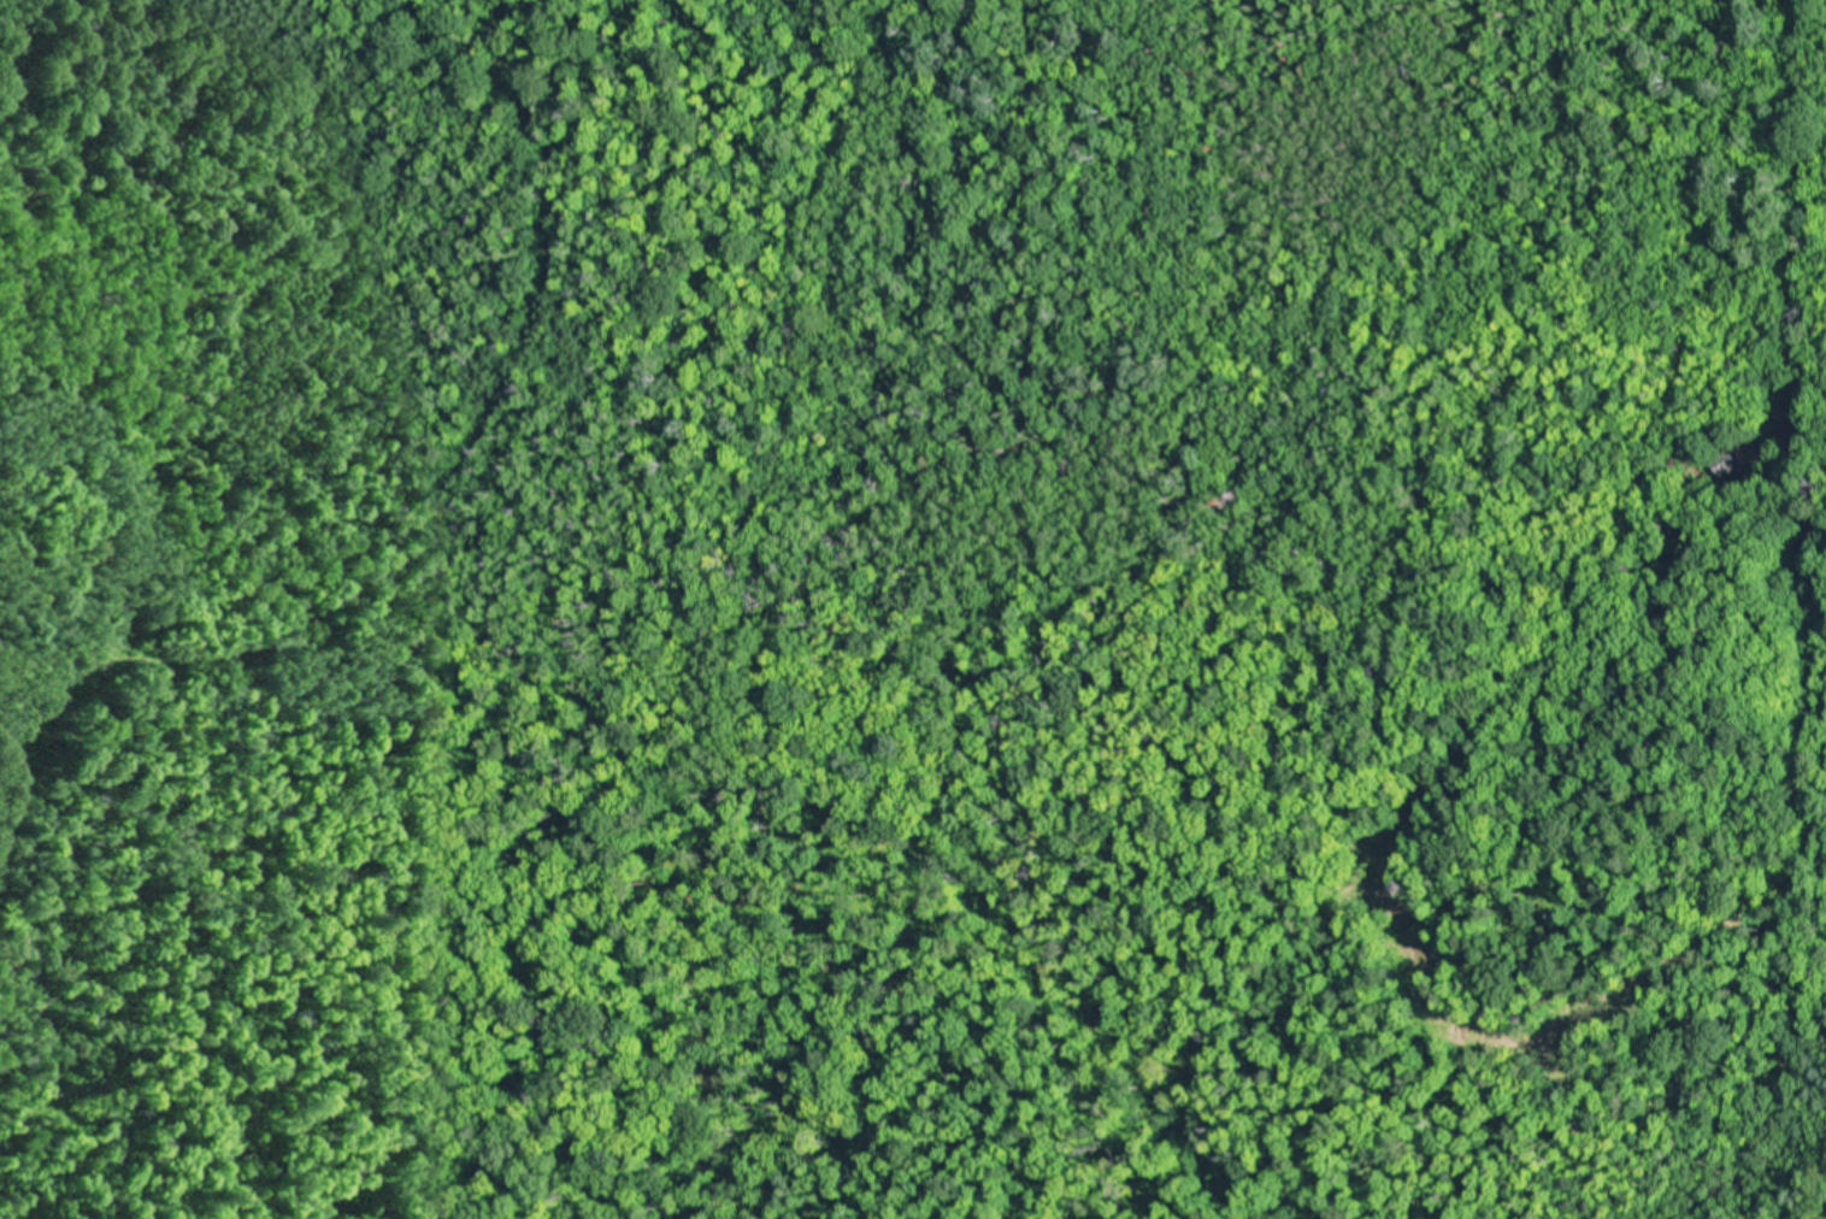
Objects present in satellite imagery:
building: (1728, 465)

